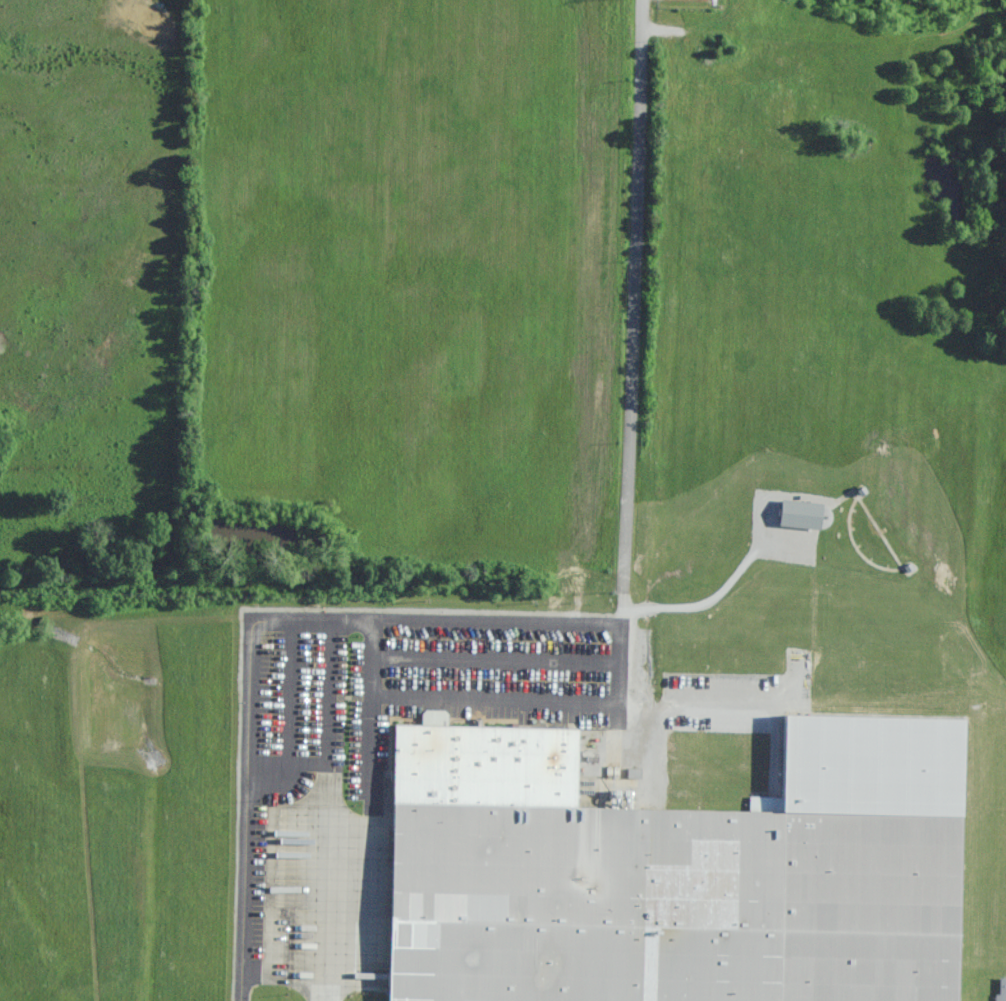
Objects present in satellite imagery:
road: (638, 296)
parking lot: (393, 703)
building: (676, 872)
road: (325, 913)
building: (1002, 989)

